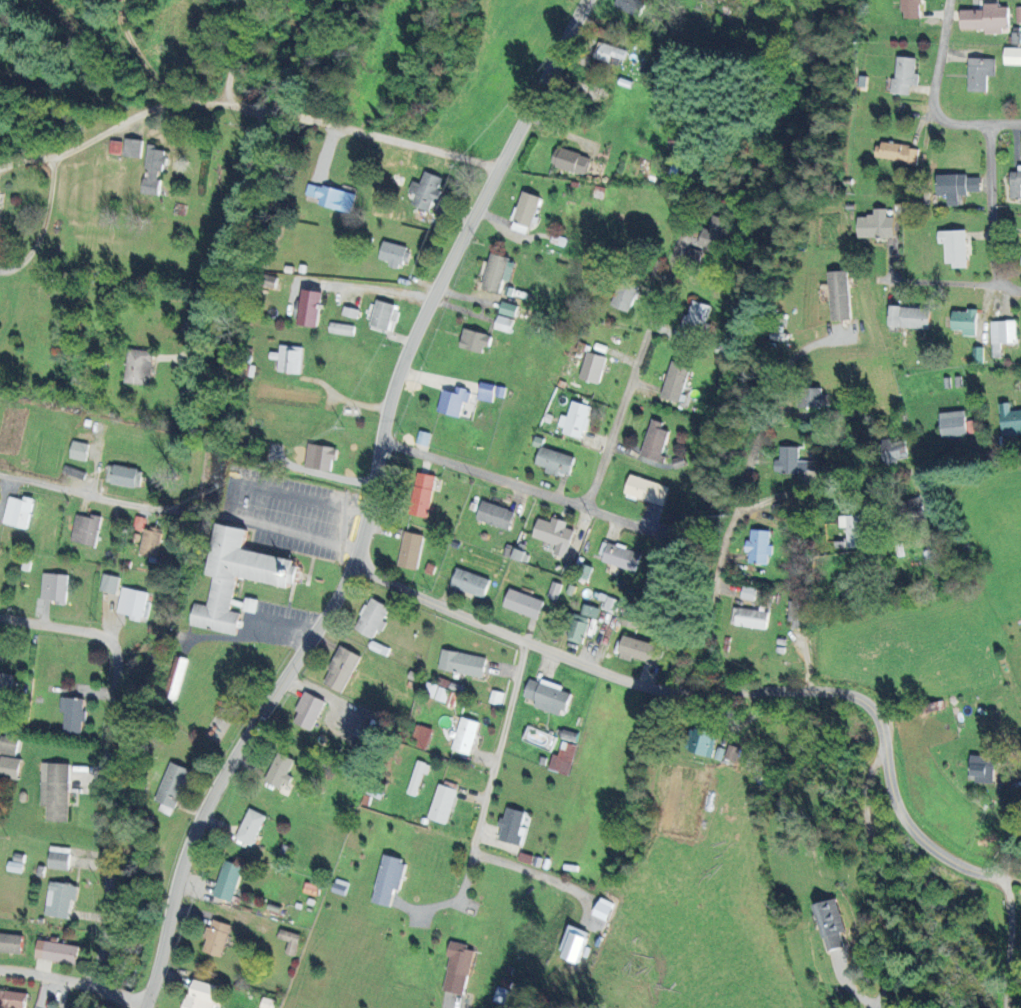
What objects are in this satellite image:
building: (630, 6)
building: (911, 9)
building: (1018, 14)
building: (985, 18)
road: (233, 50)
building: (608, 52)
road: (141, 54)
building: (1012, 56)
building: (979, 73)
building: (903, 74)
road: (937, 97)
road: (142, 112)
road: (303, 117)
building: (677, 139)
road: (405, 142)
building: (114, 147)
building: (132, 147)
building: (896, 152)
building: (569, 160)
building: (152, 170)
building: (1015, 184)
building: (957, 186)
building: (424, 194)
building: (330, 197)
road: (977, 204)
building: (524, 213)
road: (46, 223)
building: (875, 225)
building: (713, 234)
building: (954, 247)
building: (394, 254)
building: (48, 270)
building: (497, 273)
building: (269, 280)
road: (912, 283)
road: (998, 283)
road: (366, 290)
building: (838, 295)
building: (623, 296)
building: (308, 308)
building: (507, 309)
building: (349, 312)
building: (379, 315)
building: (695, 316)
building: (909, 317)
building: (964, 322)
building: (503, 324)
building: (340, 329)
building: (1001, 336)
building: (474, 341)
building: (977, 355)
building: (288, 358)
building: (138, 366)
building: (592, 367)
building: (674, 381)
building: (485, 392)
road: (341, 397)
building: (811, 397)
building: (452, 401)
building: (574, 420)
building: (1010, 420)
building: (955, 424)
road: (758, 437)
building: (654, 441)
building: (78, 450)
building: (892, 451)
building: (319, 457)
building: (554, 461)
building: (792, 462)
building: (123, 476)
road: (593, 483)
building: (646, 490)
building: (421, 495)
road: (769, 498)
road: (108, 500)
road: (368, 506)
building: (911, 509)
building: (17, 512)
building: (494, 515)
building: (138, 523)
building: (85, 529)
road: (290, 529)
building: (853, 530)
building: (553, 534)
building: (150, 542)
building: (758, 547)
building: (410, 551)
building: (618, 557)
building: (279, 582)
building: (469, 582)
building: (108, 584)
building: (53, 588)
building: (554, 590)
building: (748, 593)
building: (131, 603)
building: (245, 604)
building: (522, 604)
building: (590, 611)
building: (795, 614)
building: (372, 618)
building: (749, 618)
building: (577, 629)
building: (639, 651)
building: (461, 663)
building: (340, 669)
building: (174, 678)
building: (5, 683)
road: (719, 690)
building: (435, 691)
building: (546, 696)
building: (307, 711)
building: (72, 714)
building: (364, 733)
building: (420, 735)
building: (465, 736)
building: (700, 743)
building: (8, 744)
building: (726, 753)
road: (101, 755)
building: (562, 758)
building: (9, 767)
building: (981, 768)
building: (279, 771)
building: (417, 777)
building: (172, 785)
road: (484, 792)
building: (55, 793)
building: (442, 804)
building: (510, 826)
building: (249, 827)
road: (1011, 835)
building: (58, 858)
building: (15, 863)
road: (541, 876)
road: (878, 879)
building: (387, 880)
building: (227, 881)
building: (59, 899)
building: (831, 924)
road: (1009, 936)
building: (215, 937)
building: (288, 940)
building: (10, 942)
building: (572, 944)
building: (55, 951)
building: (457, 968)
road: (46, 976)
road: (98, 986)
road: (117, 994)
building: (200, 994)
building: (499, 996)
building: (12, 999)
building: (267, 1002)
road: (451, 1002)
road: (138, 1004)

